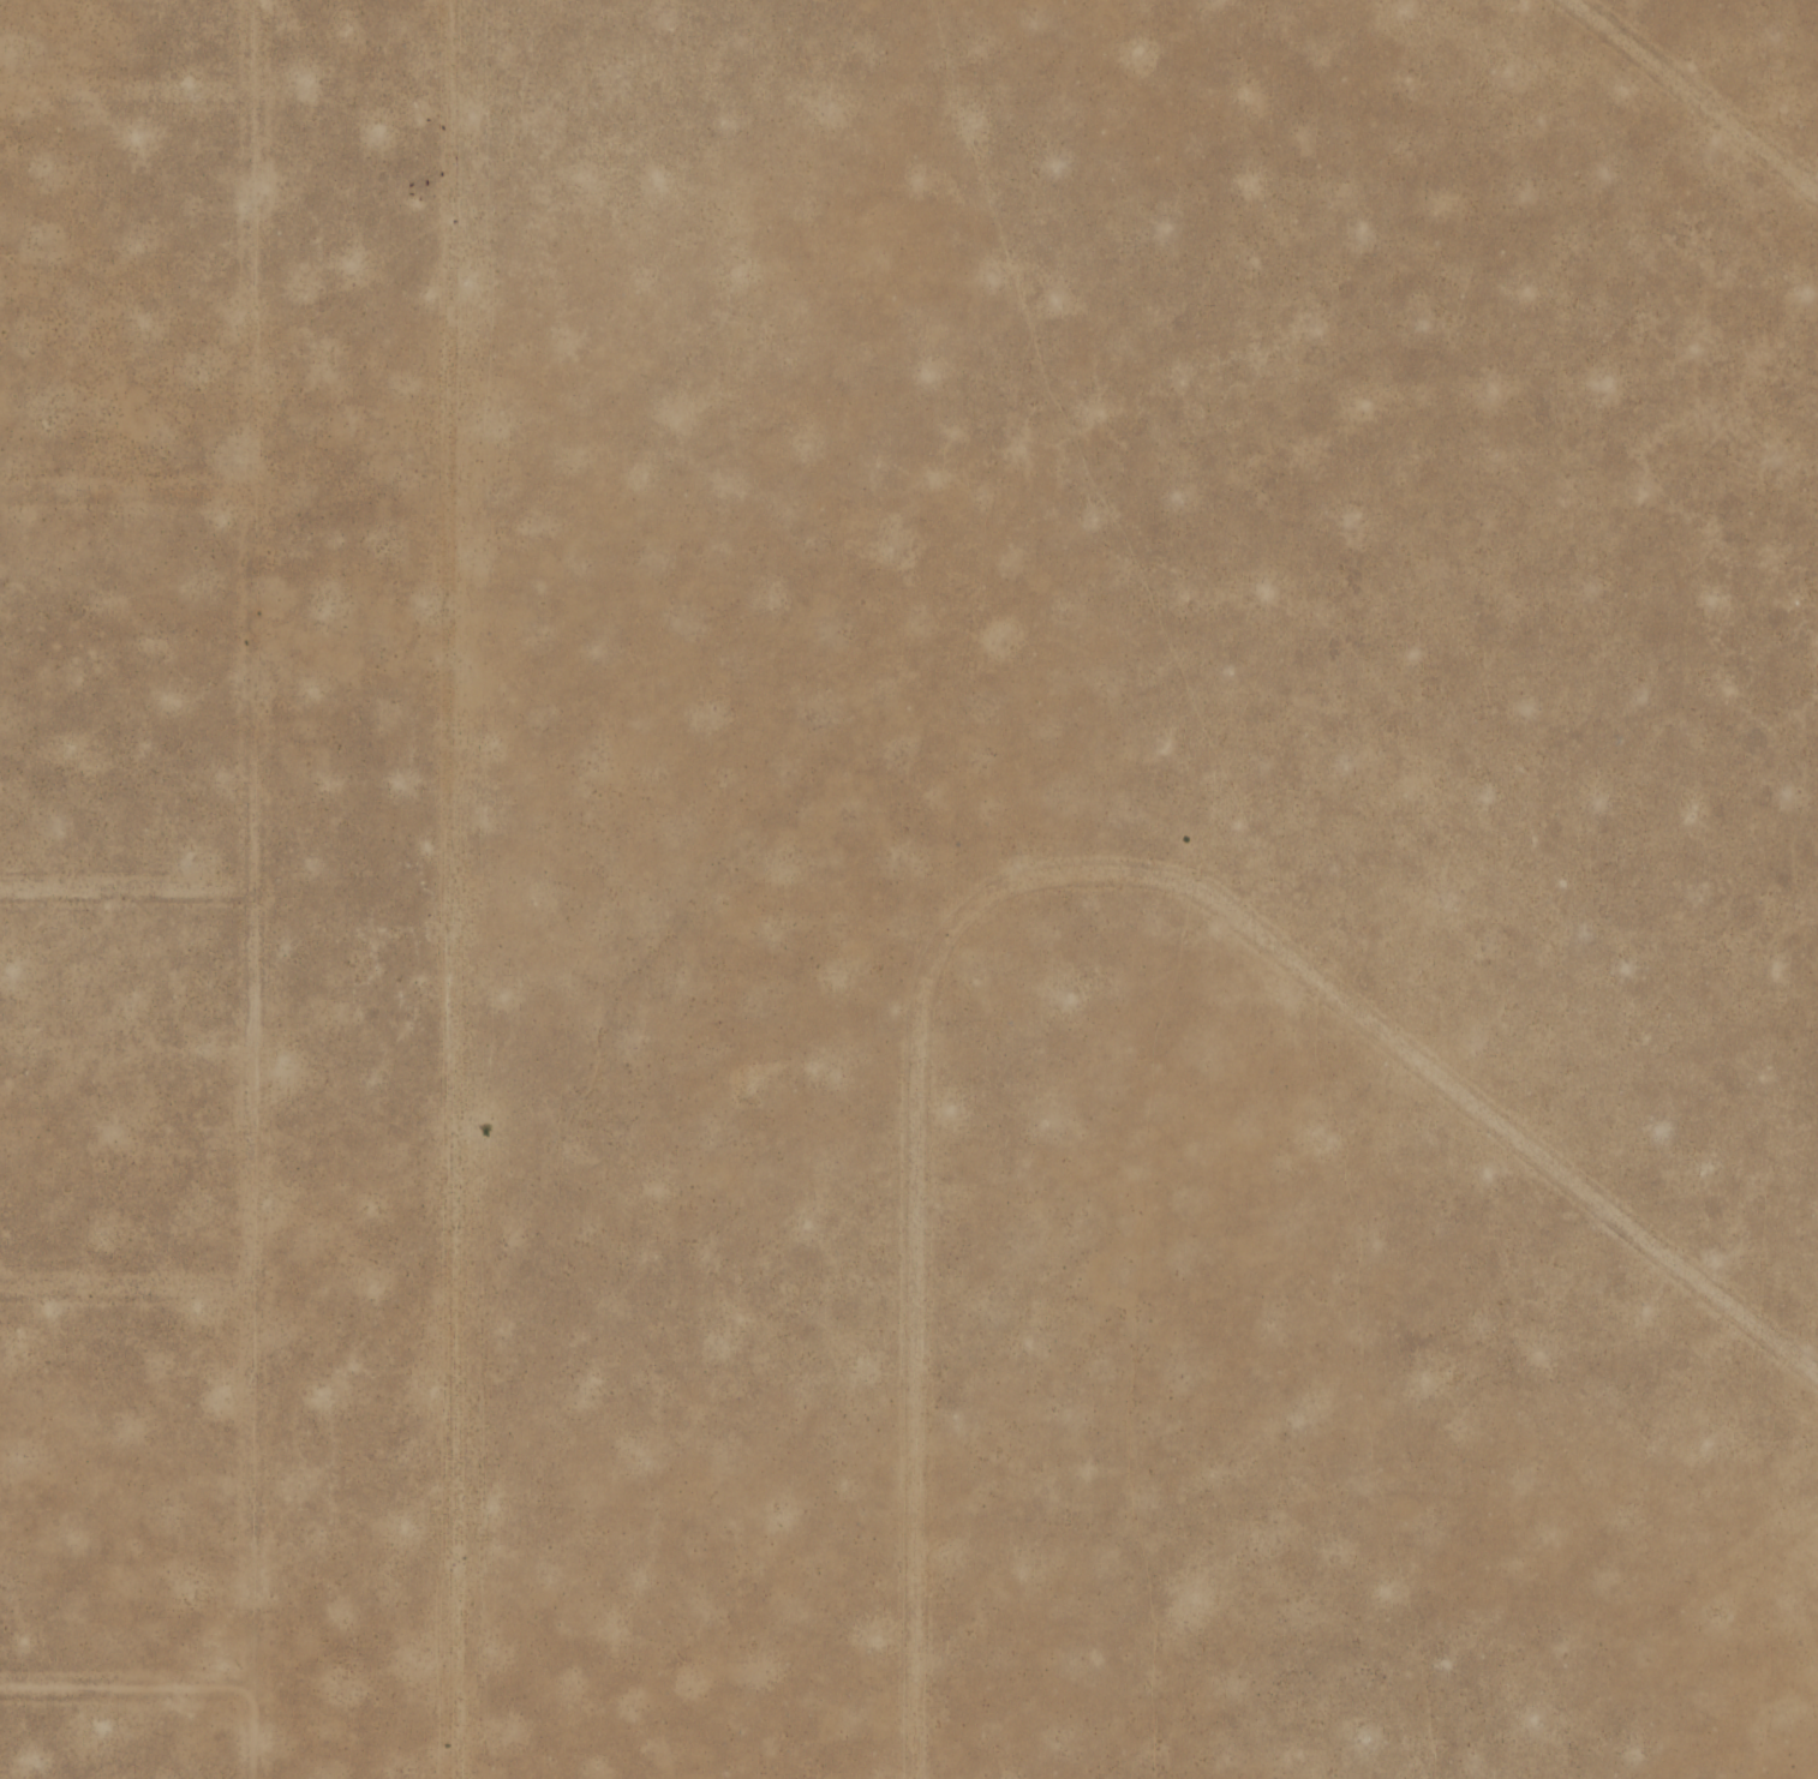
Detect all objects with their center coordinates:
road: (458, 889)

